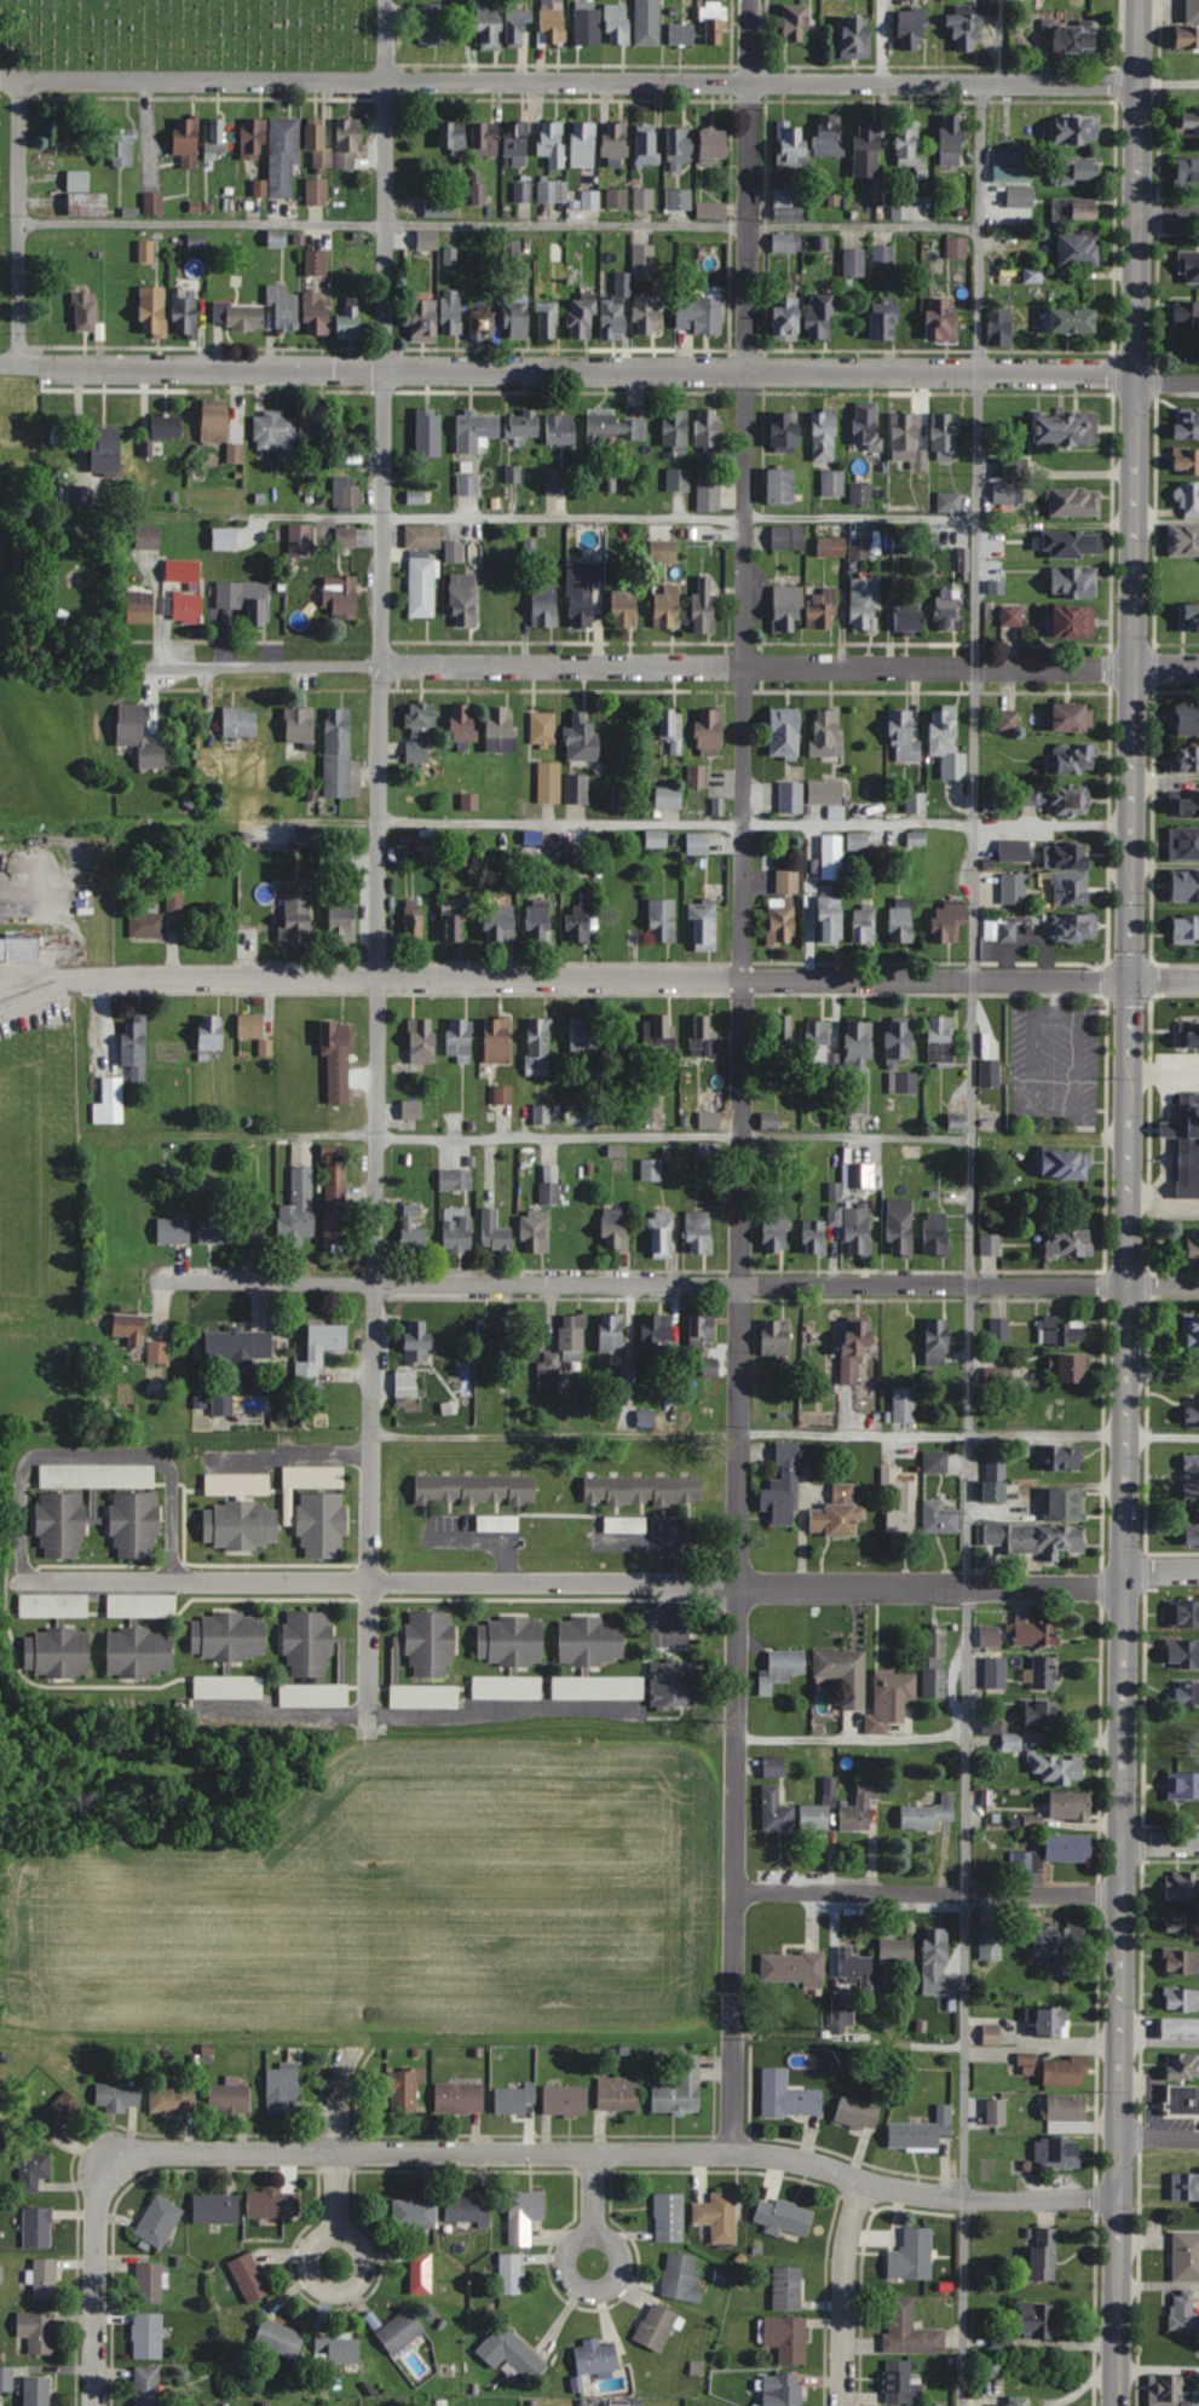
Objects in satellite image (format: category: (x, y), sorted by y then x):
building: (647, 22)
building: (715, 22)
building: (795, 22)
building: (431, 23)
building: (617, 24)
building: (489, 25)
building: (587, 25)
building: (518, 28)
building: (552, 28)
building: (1189, 28)
building: (912, 30)
building: (681, 33)
building: (965, 33)
building: (855, 38)
building: (1076, 39)
road: (886, 40)
road: (1005, 40)
park: (172, 50)
road: (569, 81)
road: (1169, 81)
building: (1188, 122)
building: (1076, 128)
building: (830, 134)
building: (214, 137)
building: (452, 137)
building: (253, 138)
building: (484, 139)
building: (953, 139)
building: (188, 140)
building: (615, 140)
building: (348, 142)
building: (517, 142)
building: (552, 143)
building: (317, 144)
building: (583, 144)
building: (714, 144)
building: (791, 145)
building: (909, 145)
building: (121, 146)
building: (680, 146)
building: (646, 148)
building: (869, 152)
building: (283, 156)
building: (1014, 163)
building: (1074, 169)
building: (1188, 171)
building: (79, 180)
building: (552, 190)
building: (317, 191)
building: (1020, 196)
building: (680, 198)
building: (152, 202)
building: (87, 203)
building: (785, 203)
building: (439, 207)
building: (711, 209)
building: (1074, 209)
road: (1169, 214)
road: (27, 219)
road: (501, 223)
building: (786, 242)
building: (957, 247)
building: (1079, 248)
building: (146, 251)
building: (854, 263)
building: (1189, 264)
building: (1032, 275)
building: (626, 294)
building: (283, 307)
building: (85, 311)
building: (152, 312)
building: (451, 312)
building: (1186, 312)
building: (316, 313)
building: (647, 313)
building: (699, 315)
building: (185, 316)
building: (237, 316)
building: (515, 317)
building: (548, 317)
building: (819, 317)
building: (425, 318)
building: (581, 318)
building: (786, 318)
building: (884, 318)
building: (350, 320)
building: (941, 321)
building: (1071, 321)
building: (482, 326)
building: (1001, 327)
road: (599, 372)
building: (215, 420)
building: (313, 420)
building: (523, 424)
building: (1187, 424)
building: (166, 425)
building: (616, 427)
building: (675, 427)
building: (708, 427)
building: (1065, 427)
building: (560, 428)
building: (866, 428)
building: (475, 430)
building: (273, 431)
building: (428, 431)
building: (784, 432)
building: (824, 434)
building: (944, 436)
building: (907, 437)
building: (236, 453)
building: (105, 454)
building: (1186, 459)
building: (1015, 467)
building: (678, 479)
building: (554, 482)
building: (832, 482)
building: (467, 484)
building: (780, 484)
building: (347, 491)
building: (860, 493)
building: (1003, 493)
building: (709, 494)
building: (1189, 499)
building: (950, 501)
building: (1073, 501)
road: (679, 516)
building: (346, 536)
building: (149, 537)
building: (788, 537)
building: (1183, 539)
building: (301, 540)
building: (1068, 542)
building: (831, 546)
building: (901, 546)
building: (859, 547)
building: (663, 551)
building: (421, 566)
building: (183, 569)
building: (1074, 581)
building: (583, 591)
building: (340, 597)
building: (244, 598)
building: (463, 599)
building: (544, 603)
building: (864, 603)
building: (139, 604)
building: (181, 604)
building: (704, 604)
building: (667, 606)
building: (788, 606)
building: (624, 608)
building: (823, 608)
building: (947, 608)
building: (1011, 615)
building: (1189, 615)
building: (909, 618)
building: (1074, 620)
road: (673, 666)
building: (1073, 715)
building: (1187, 718)
building: (240, 723)
building: (465, 723)
building: (300, 724)
building: (543, 727)
building: (671, 727)
building: (419, 729)
building: (500, 730)
building: (710, 730)
building: (828, 731)
building: (784, 732)
building: (138, 735)
building: (904, 735)
building: (582, 739)
building: (947, 743)
building: (338, 752)
building: (1076, 756)
building: (1184, 758)
building: (696, 776)
building: (549, 782)
building: (576, 788)
building: (825, 792)
building: (669, 796)
building: (790, 796)
building: (1062, 799)
building: (915, 801)
building: (1183, 802)
road: (755, 823)
building: (656, 838)
building: (426, 839)
building: (916, 839)
building: (858, 841)
building: (697, 842)
building: (1184, 842)
building: (1015, 850)
building: (1065, 854)
building: (832, 856)
road: (379, 858)
building: (573, 862)
building: (788, 880)
building: (1184, 885)
building: (1071, 886)
building: (1014, 888)
building: (174, 899)
building: (296, 911)
building: (830, 919)
building: (414, 920)
building: (454, 920)
building: (540, 920)
building: (662, 920)
building: (901, 920)
building: (581, 921)
building: (782, 921)
building: (949, 921)
building: (342, 922)
building: (500, 922)
building: (864, 922)
building: (146, 925)
building: (703, 925)
building: (1073, 926)
building: (999, 929)
building: (1186, 929)
building: (247, 943)
building: (19, 948)
road: (639, 978)
road: (39, 994)
building: (254, 1030)
building: (212, 1031)
building: (779, 1031)
building: (1194, 1031)
building: (659, 1035)
building: (702, 1035)
building: (460, 1037)
building: (497, 1038)
building: (421, 1040)
building: (583, 1040)
building: (941, 1040)
building: (899, 1041)
building: (817, 1042)
building: (136, 1044)
building: (537, 1044)
building: (859, 1047)
building: (336, 1061)
building: (990, 1072)
road: (742, 1076)
building: (903, 1082)
building: (503, 1093)
building: (113, 1099)
building: (411, 1109)
building: (542, 1113)
building: (709, 1119)
building: (769, 1121)
road: (1051, 1133)
road: (674, 1135)
building: (1186, 1142)
building: (1066, 1163)
building: (651, 1169)
building: (455, 1179)
building: (548, 1192)
building: (335, 1193)
road: (1131, 1203)
building: (298, 1207)
building: (457, 1227)
building: (900, 1227)
building: (413, 1228)
building: (615, 1228)
building: (173, 1230)
building: (215, 1230)
building: (858, 1231)
building: (495, 1232)
building: (535, 1232)
building: (699, 1232)
building: (936, 1233)
building: (661, 1234)
building: (776, 1234)
building: (814, 1236)
road: (973, 1243)
building: (1071, 1243)
building: (1193, 1243)
road: (673, 1283)
building: (129, 1328)
building: (999, 1329)
building: (1061, 1331)
building: (1192, 1331)
building: (701, 1332)
building: (612, 1334)
building: (492, 1336)
building: (656, 1336)
building: (417, 1340)
building: (777, 1340)
building: (938, 1341)
building: (240, 1346)
building: (855, 1348)
building: (157, 1351)
building: (319, 1351)
building: (561, 1353)
building: (710, 1366)
building: (1073, 1369)
building: (628, 1376)
building: (407, 1383)
building: (223, 1404)
building: (904, 1405)
building: (1192, 1410)
road: (554, 1432)
road: (968, 1438)
road: (289, 1454)
road: (98, 1456)
building: (1062, 1457)
building: (935, 1461)
building: (73, 1475)
building: (1191, 1475)
building: (995, 1480)
building: (237, 1484)
building: (783, 1487)
building: (475, 1489)
building: (642, 1490)
building: (900, 1502)
building: (1065, 1503)
building: (316, 1509)
building: (837, 1513)
building: (939, 1516)
building: (97, 1523)
building: (241, 1525)
building: (1192, 1533)
building: (1033, 1538)
road: (1163, 1568)
road: (576, 1583)
building: (40, 1605)
building: (1184, 1613)
building: (1036, 1630)
building: (229, 1636)
building: (509, 1641)
building: (590, 1641)
building: (309, 1644)
building: (431, 1645)
building: (57, 1652)
building: (139, 1653)
building: (1183, 1653)
building: (935, 1662)
building: (782, 1669)
building: (845, 1674)
building: (1044, 1674)
building: (671, 1685)
building: (227, 1687)
building: (1187, 1692)
building: (893, 1693)
building: (1044, 1715)
road: (852, 1743)
building: (774, 1766)
building: (1057, 1767)
building: (1183, 1785)
building: (861, 1806)
building: (1071, 1806)
building: (776, 1811)
building: (928, 1813)
building: (814, 1817)
road: (1163, 1841)
building: (1070, 1848)
building: (1026, 1863)
building: (1182, 1886)
road: (932, 1890)
building: (1181, 1923)
building: (1061, 1942)
building: (990, 1946)
building: (894, 1957)
building: (1181, 1959)
building: (939, 1963)
building: (854, 1965)
building: (794, 1968)
building: (1181, 1999)
building: (842, 2013)
building: (1049, 2021)
building: (1180, 2028)
building: (992, 2034)
building: (1183, 2066)
building: (1066, 2071)
building: (283, 2088)
building: (679, 2088)
building: (403, 2091)
building: (618, 2094)
building: (229, 2096)
building: (788, 2096)
building: (117, 2097)
building: (460, 2097)
building: (171, 2099)
building: (515, 2099)
building: (565, 2100)
building: (1183, 2100)
building: (1067, 2108)
building: (997, 2112)
building: (858, 2113)
building: (56, 2116)
building: (922, 2131)
road: (1159, 2135)
road: (338, 2141)
road: (617, 2153)
building: (1056, 2153)
building: (34, 2170)
building: (1186, 2186)
road: (594, 2193)
building: (273, 2203)
building: (217, 2209)
building: (466, 2210)
building: (414, 2214)
building: (524, 2215)
building: (783, 2216)
building: (669, 2217)
building: (719, 2217)
building: (158, 2221)
building: (36, 2227)
building: (1044, 2254)
building: (1186, 2255)
building: (909, 2262)
building: (421, 2273)
building: (509, 2273)
building: (249, 2277)
building: (681, 2277)
building: (45, 2278)
building: (149, 2283)
road: (96, 2284)
building: (788, 2287)
road: (324, 2291)
road: (580, 2292)
road: (846, 2293)
building: (1182, 2309)
building: (1037, 2320)
building: (656, 2326)
building: (910, 2330)
building: (38, 2331)
building: (399, 2331)
building: (148, 2335)
building: (786, 2337)
building: (278, 2338)
building: (339, 2349)
building: (517, 2352)
building: (596, 2359)
building: (6, 2378)
building: (901, 2383)
building: (146, 2385)
building: (782, 2389)
building: (1171, 2389)
building: (36, 2390)
building: (1021, 2405)

